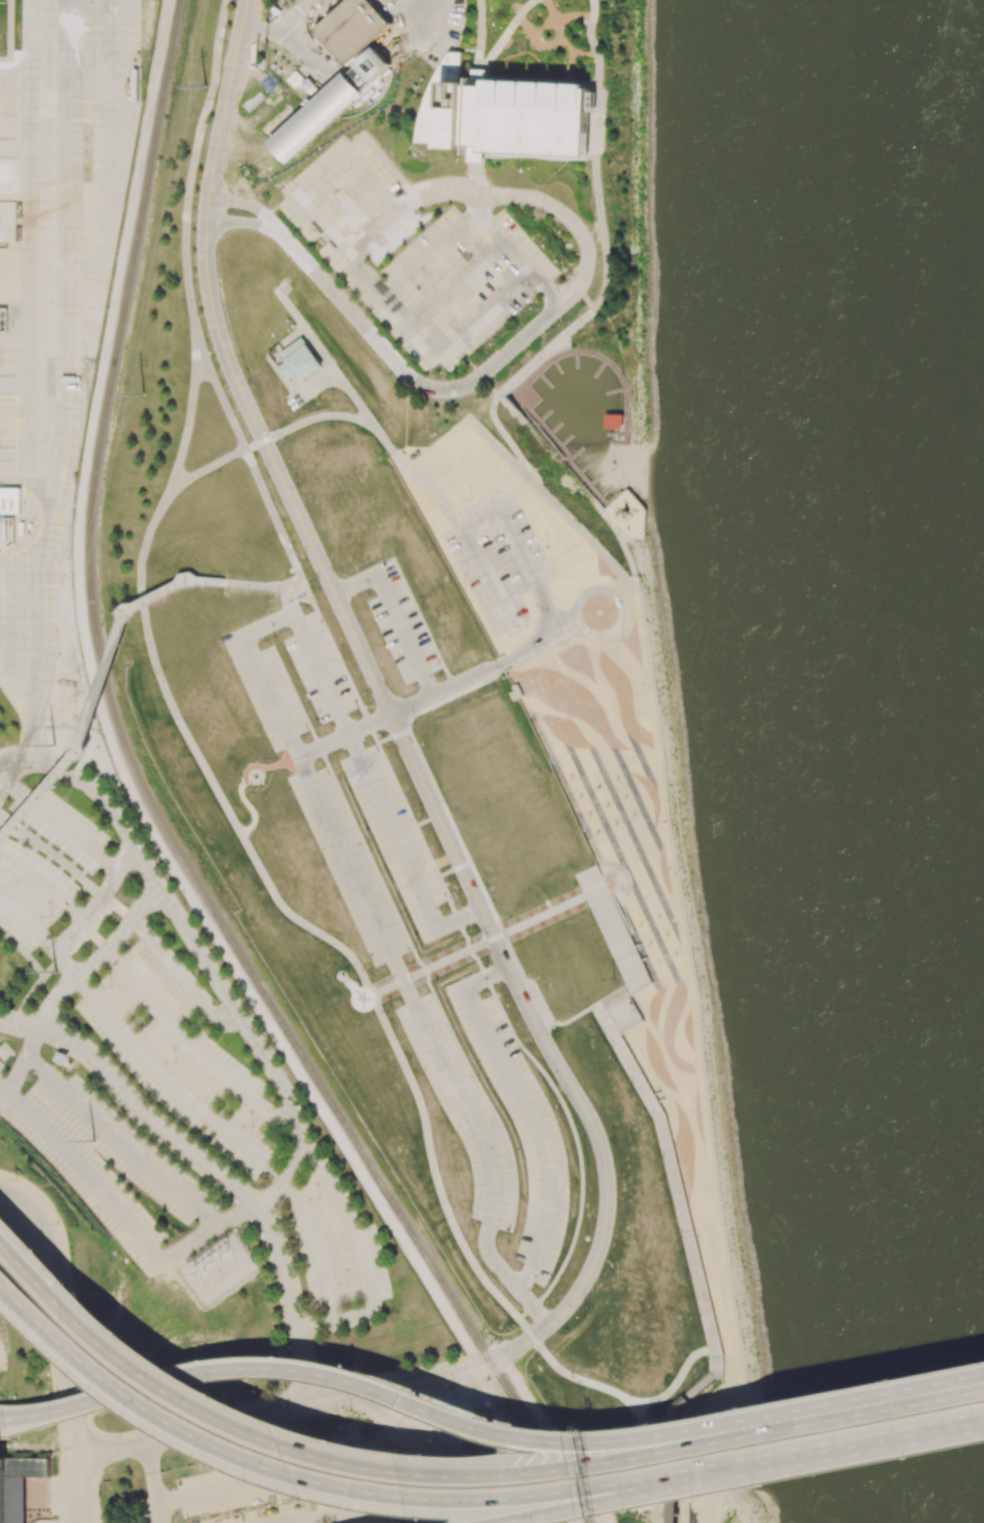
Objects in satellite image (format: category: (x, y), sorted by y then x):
road: (412, 24)
road: (10, 26)
building: (352, 28)
road: (254, 30)
power tower: (205, 86)
building: (309, 86)
building: (330, 103)
building: (503, 112)
road: (600, 156)
road: (301, 193)
road: (437, 193)
road: (479, 202)
road: (249, 206)
road: (351, 208)
road: (570, 219)
road: (244, 223)
road: (374, 233)
road: (431, 253)
parking lot: (413, 255)
road: (519, 256)
road: (458, 284)
parking lot: (53, 293)
road: (189, 296)
road: (585, 299)
railway: (123, 305)
road: (290, 310)
road: (293, 337)
road: (454, 339)
road: (319, 351)
road: (545, 352)
pier: (573, 360)
pier: (603, 360)
building: (298, 361)
pier: (554, 366)
pier: (597, 368)
road: (482, 375)
road: (407, 377)
pier: (542, 380)
road: (42, 383)
road: (314, 387)
pier: (614, 390)
power tower: (142, 395)
road: (352, 396)
pier: (521, 397)
pier: (615, 414)
pier: (542, 416)
road: (468, 421)
pier: (552, 429)
road: (380, 435)
pier: (615, 435)
road: (507, 438)
pier: (563, 441)
pier: (619, 444)
pier: (573, 454)
pier: (565, 459)
road: (213, 463)
pier: (582, 468)
pier: (593, 480)
road: (282, 482)
road: (577, 486)
pier: (604, 492)
building: (10, 500)
road: (495, 514)
road: (583, 533)
parking lot: (498, 559)
road: (355, 583)
road: (581, 596)
road: (315, 600)
road: (288, 605)
road: (421, 621)
road: (267, 625)
parking lot: (401, 627)
road: (569, 627)
road: (404, 634)
road: (505, 659)
road: (319, 673)
road: (482, 683)
road: (495, 683)
road: (442, 690)
road: (461, 690)
road: (105, 693)
road: (270, 696)
road: (483, 698)
road: (412, 704)
road: (435, 712)
road: (493, 716)
road: (653, 718)
river: (877, 720)
road: (454, 723)
road: (487, 733)
road: (344, 734)
road: (391, 738)
road: (498, 741)
power tower: (54, 742)
road: (12, 761)
road: (384, 761)
road: (281, 764)
road: (11, 771)
road: (431, 782)
road: (250, 783)
parking lot: (344, 792)
road: (105, 801)
building: (515, 803)
road: (249, 807)
road: (468, 817)
road: (61, 823)
road: (392, 829)
park: (472, 843)
road: (502, 843)
road: (466, 845)
road: (502, 862)
parking lot: (42, 864)
road: (350, 868)
road: (453, 870)
road: (261, 871)
building: (541, 871)
road: (592, 881)
road: (45, 883)
road: (534, 886)
road: (99, 899)
road: (618, 908)
road: (509, 909)
road: (459, 916)
road: (611, 921)
road: (29, 922)
road: (462, 933)
road: (625, 934)
road: (484, 942)
road: (100, 955)
road: (65, 963)
power tower: (55, 971)
road: (182, 975)
road: (485, 977)
road: (540, 997)
road: (610, 1011)
street lamp: (592, 1013)
road: (19, 1020)
road: (605, 1021)
road: (627, 1026)
road: (255, 1041)
road: (191, 1046)
street lamp: (612, 1046)
road: (24, 1059)
railway: (315, 1078)
street lamp: (631, 1082)
road: (171, 1087)
road: (462, 1099)
road: (702, 1108)
road: (147, 1114)
parking lot: (494, 1116)
street lamp: (651, 1117)
road: (572, 1130)
road: (538, 1132)
parking lot: (178, 1139)
power tower: (94, 1140)
road: (114, 1146)
street lamp: (662, 1157)
road: (79, 1168)
street lamp: (17, 1180)
road: (676, 1186)
street lamp: (672, 1197)
road: (9, 1206)
road: (351, 1217)
street lamp: (58, 1224)
road: (202, 1231)
road: (48, 1233)
street lamp: (681, 1236)
road: (318, 1247)
power tower: (221, 1256)
street lamp: (51, 1260)
road: (32, 1267)
power tower: (203, 1268)
street lamp: (691, 1276)
road: (508, 1277)
street lamp: (73, 1278)
road: (294, 1300)
street lamp: (701, 1315)
road: (339, 1320)
street lamp: (126, 1331)
road: (523, 1342)
street lamp: (278, 1352)
street lamp: (202, 1357)
road: (715, 1361)
road: (232, 1366)
street lamp: (85, 1378)
road: (70, 1379)
road: (677, 1380)
street lamp: (889, 1381)
road: (590, 1383)
road: (983, 1383)
road: (701, 1386)
street lamp: (86, 1387)
street lamp: (420, 1388)
street lamp: (218, 1392)
traffic signals: (354, 1394)
traffic signals: (314, 1403)
road: (891, 1403)
street lamp: (748, 1409)
street lamp: (473, 1412)
road: (3, 1420)
street lamp: (60, 1423)
street lamp: (660, 1425)
street lamp: (567, 1431)
street lamp: (165, 1435)
street lamp: (118, 1437)
street lamp: (339, 1440)
road: (628, 1444)
road: (433, 1447)
road: (835, 1450)
street lamp: (58, 1454)
street lamp: (903, 1457)
road: (675, 1458)
building: (676, 1458)
road: (150, 1470)
road: (81, 1478)
street lamp: (258, 1479)
parking lot: (283, 1479)
road: (256, 1484)
street lamp: (763, 1484)
building: (17, 1485)
street lamp: (95, 1491)
parking lot: (353, 1497)
road: (602, 1502)
road: (305, 1504)
street lamp: (638, 1509)
parking lot: (143, 1510)
street lamp: (371, 1510)
road: (84, 1511)
road: (346, 1513)
parking lot: (262, 1514)
road: (158, 1515)
street lamp: (427, 1517)
road: (305, 1518)
parking lot: (377, 1518)

